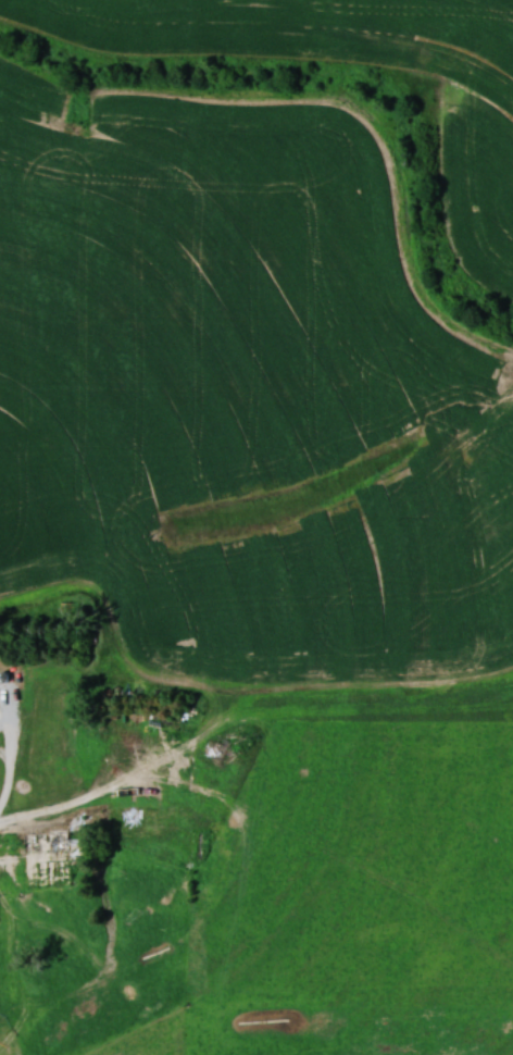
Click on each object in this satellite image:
building: (47, 841)

